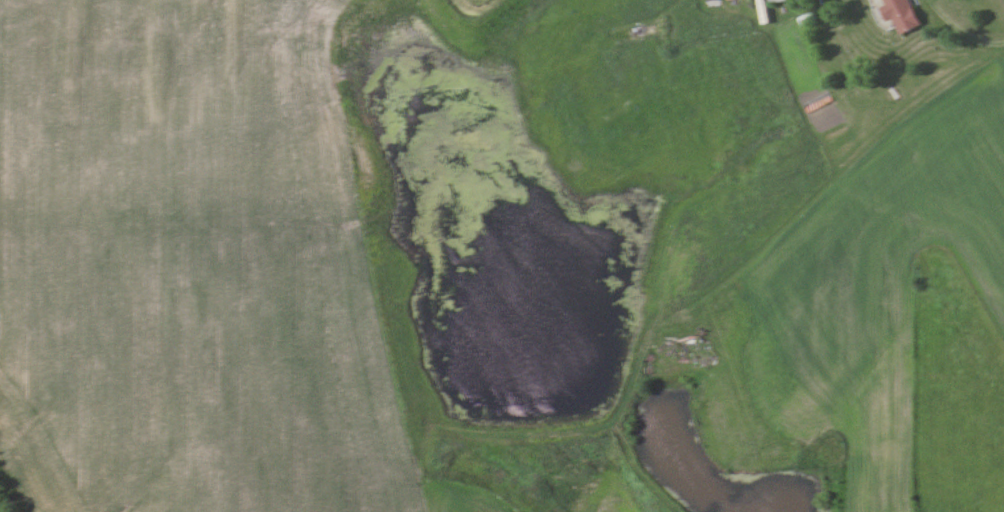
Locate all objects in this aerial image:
building: (898, 14)

